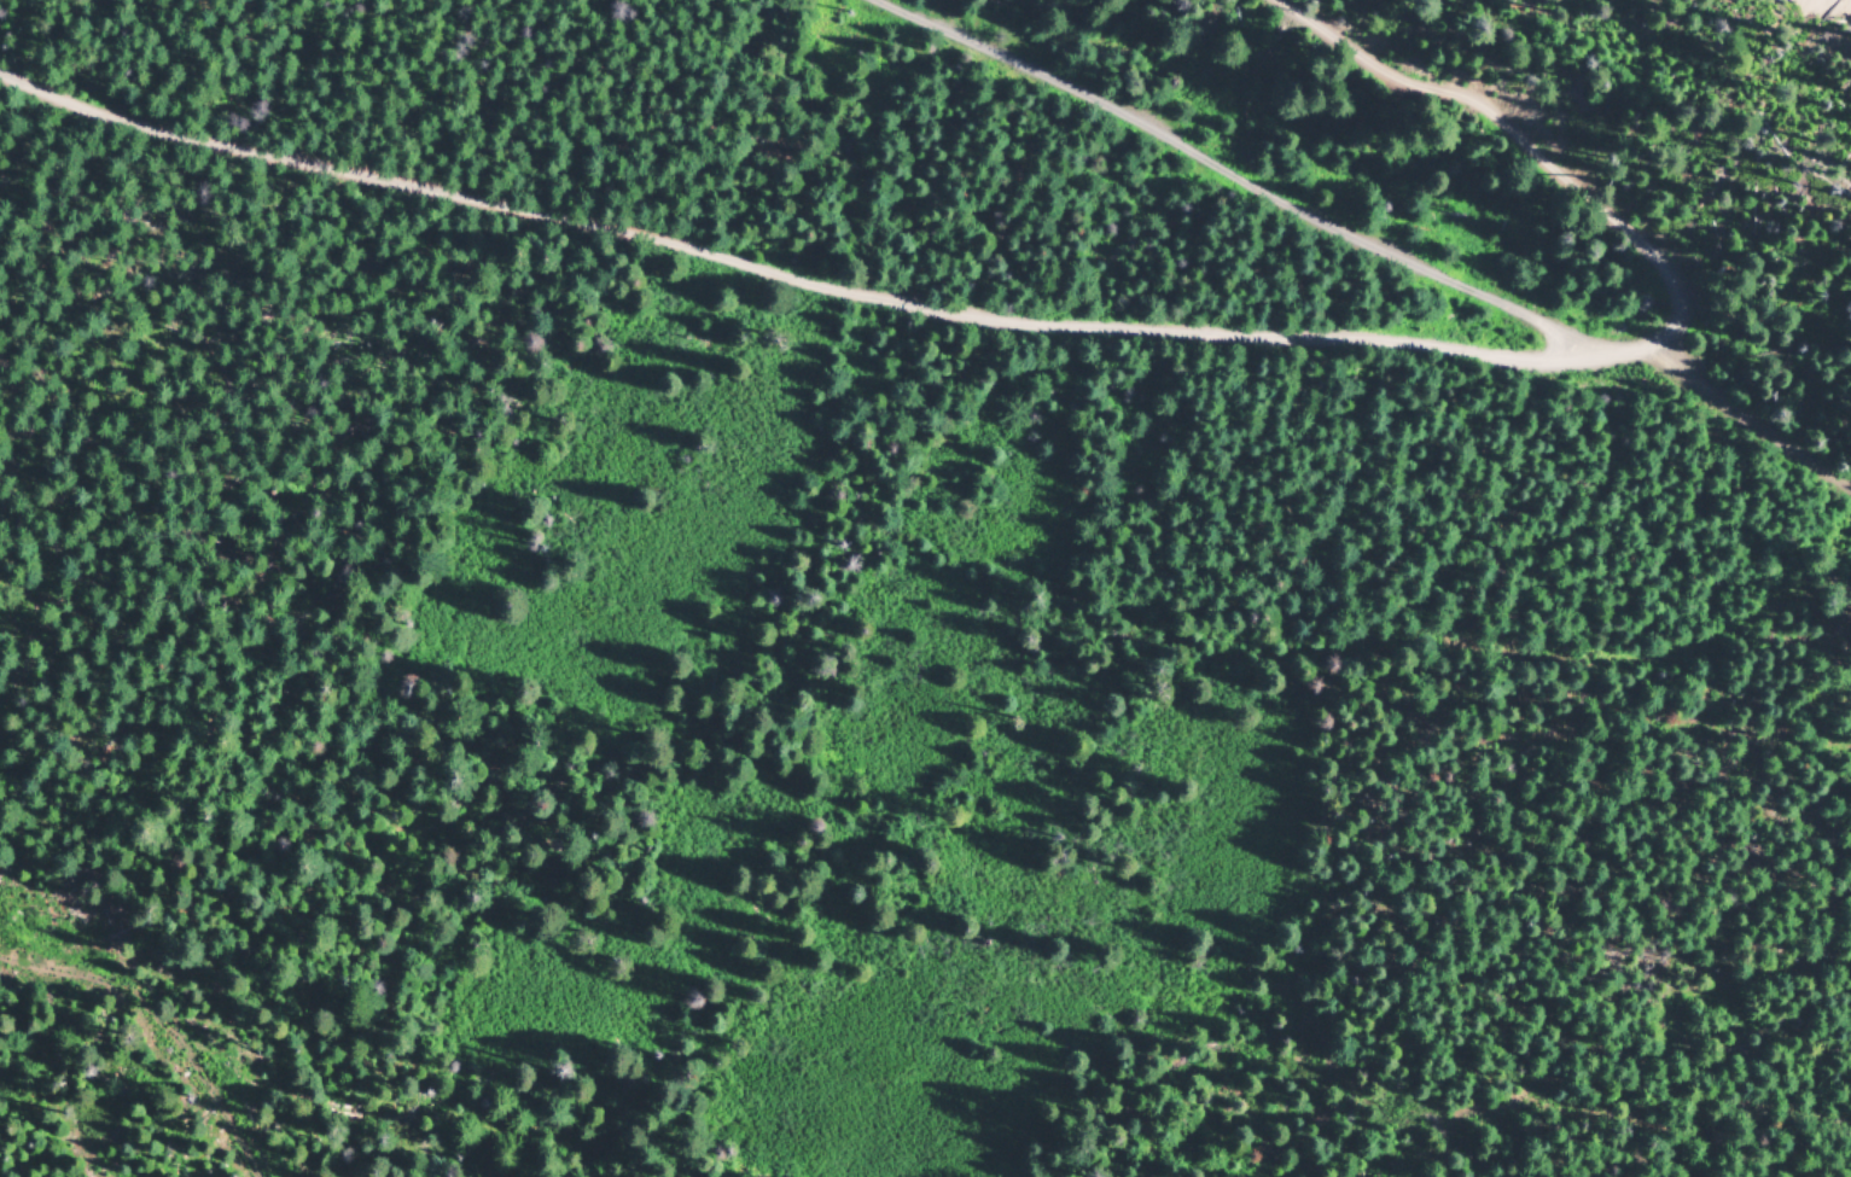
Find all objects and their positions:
road: (1475, 124)
road: (1472, 211)
road: (857, 290)

